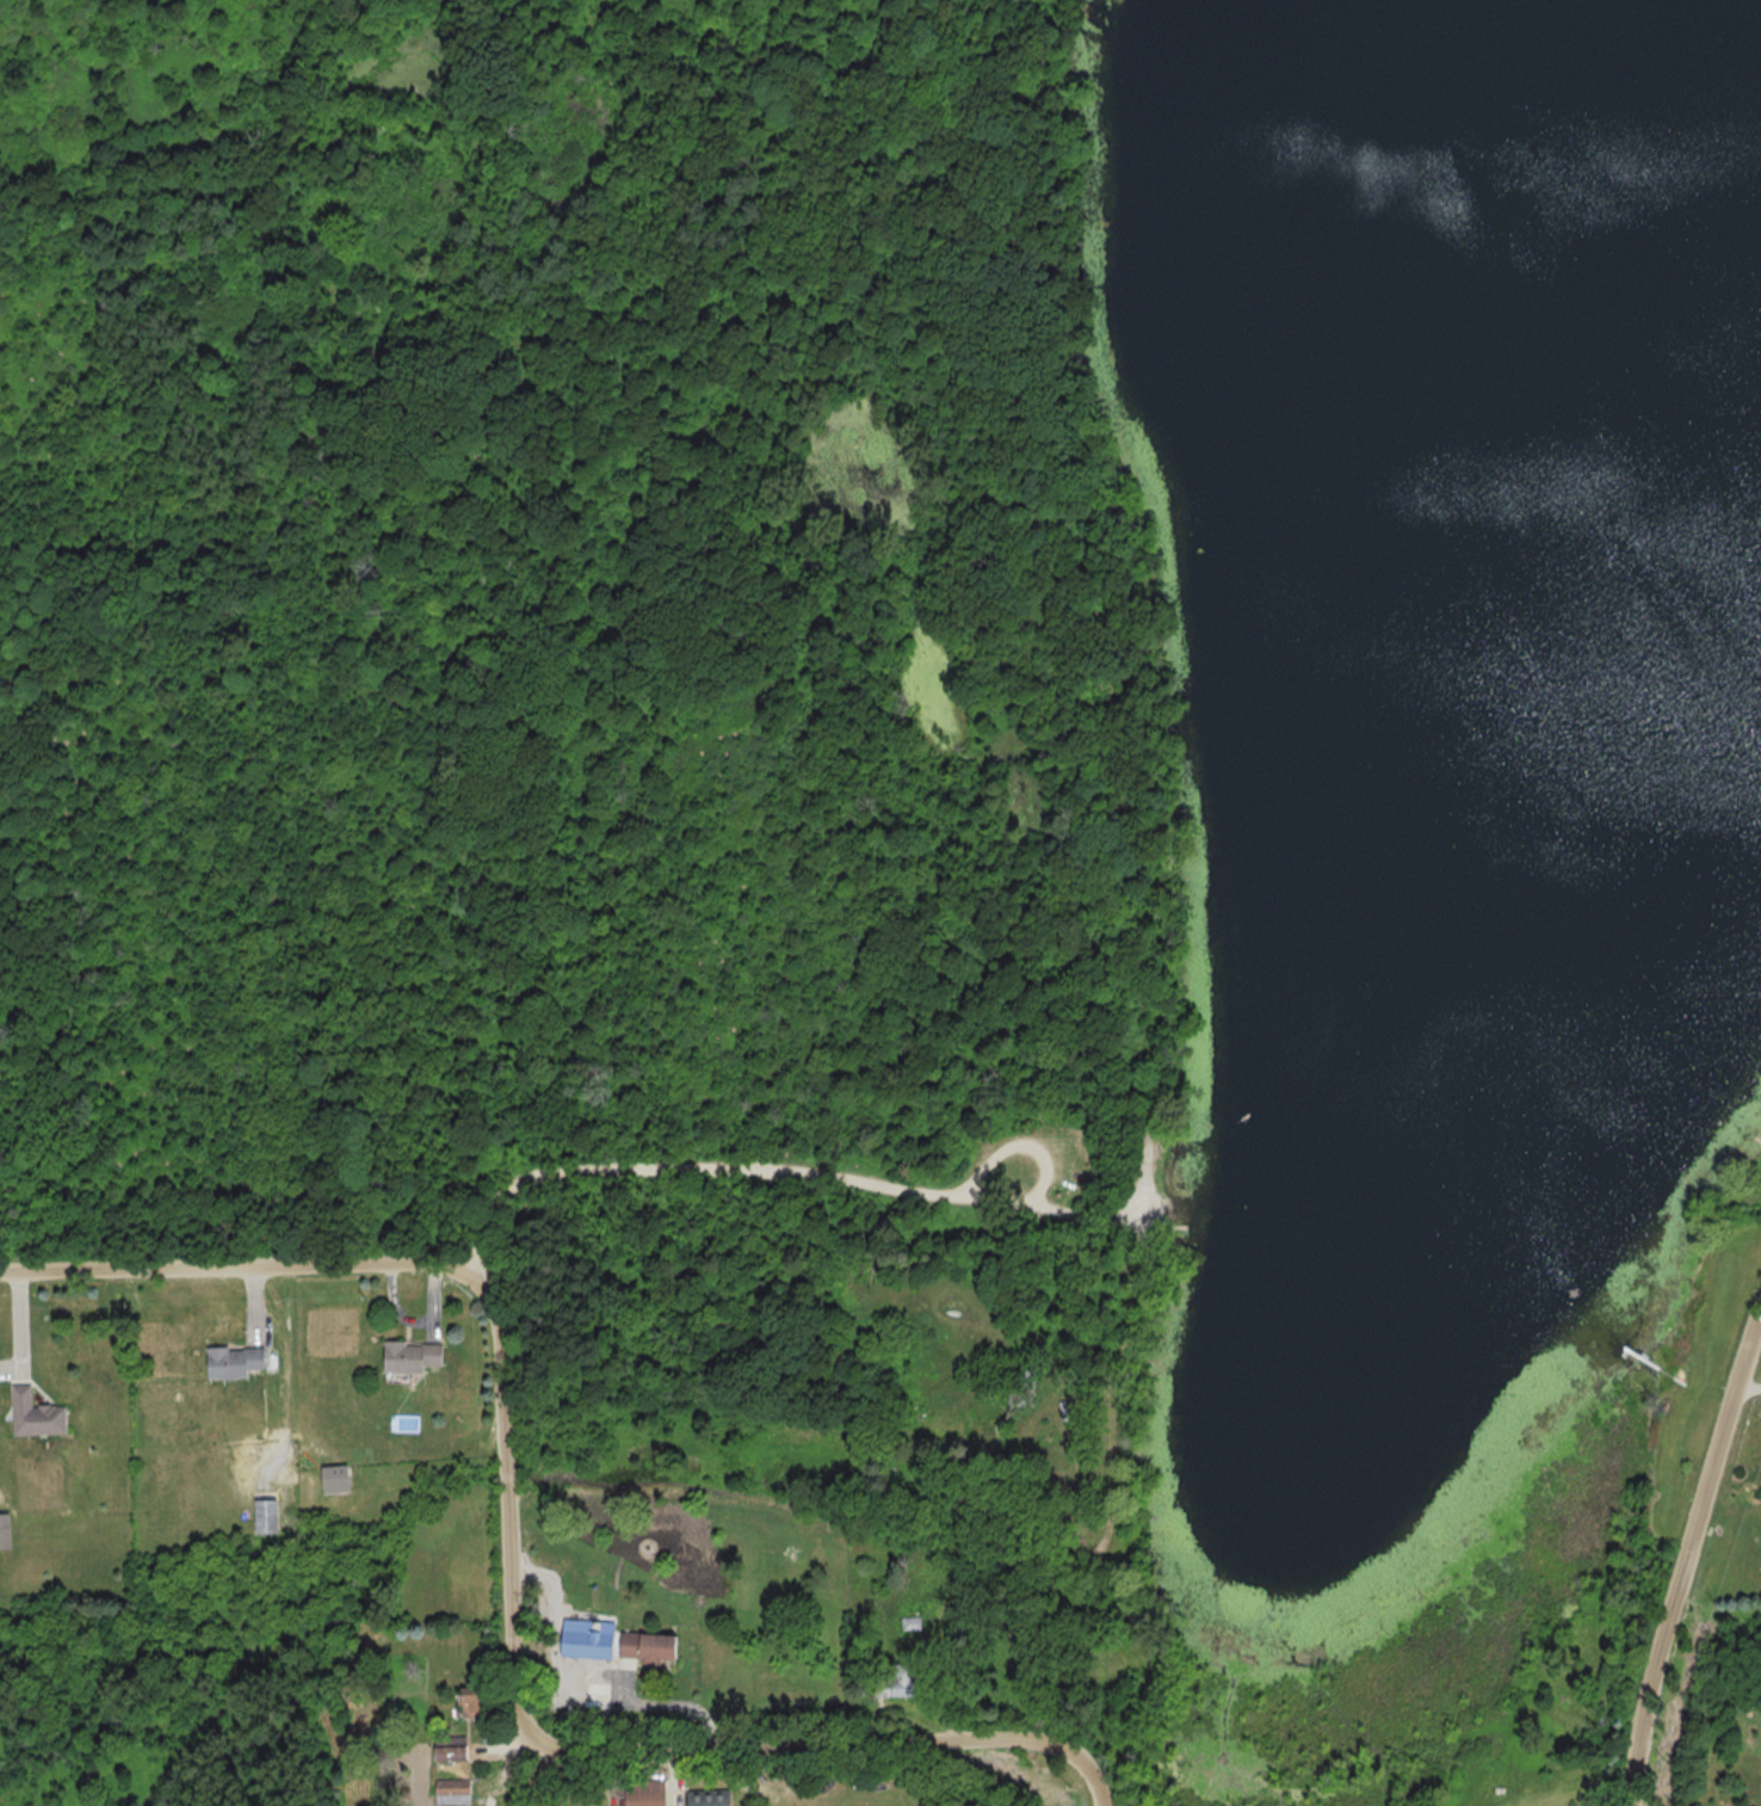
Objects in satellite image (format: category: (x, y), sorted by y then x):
park: (564, 636)
road: (1020, 1144)
road: (790, 1176)
building: (1062, 1192)
road: (235, 1263)
building: (416, 1356)
building: (239, 1362)
road: (289, 1364)
road: (1744, 1386)
building: (1026, 1387)
building: (39, 1413)
building: (339, 1479)
building: (270, 1516)
building: (6, 1531)
road: (1687, 1551)
building: (651, 1646)
building: (906, 1679)
building: (478, 1701)
road: (671, 1703)
building: (455, 1752)
road: (581, 1752)
building: (455, 1790)
building: (647, 1792)
building: (713, 1799)

